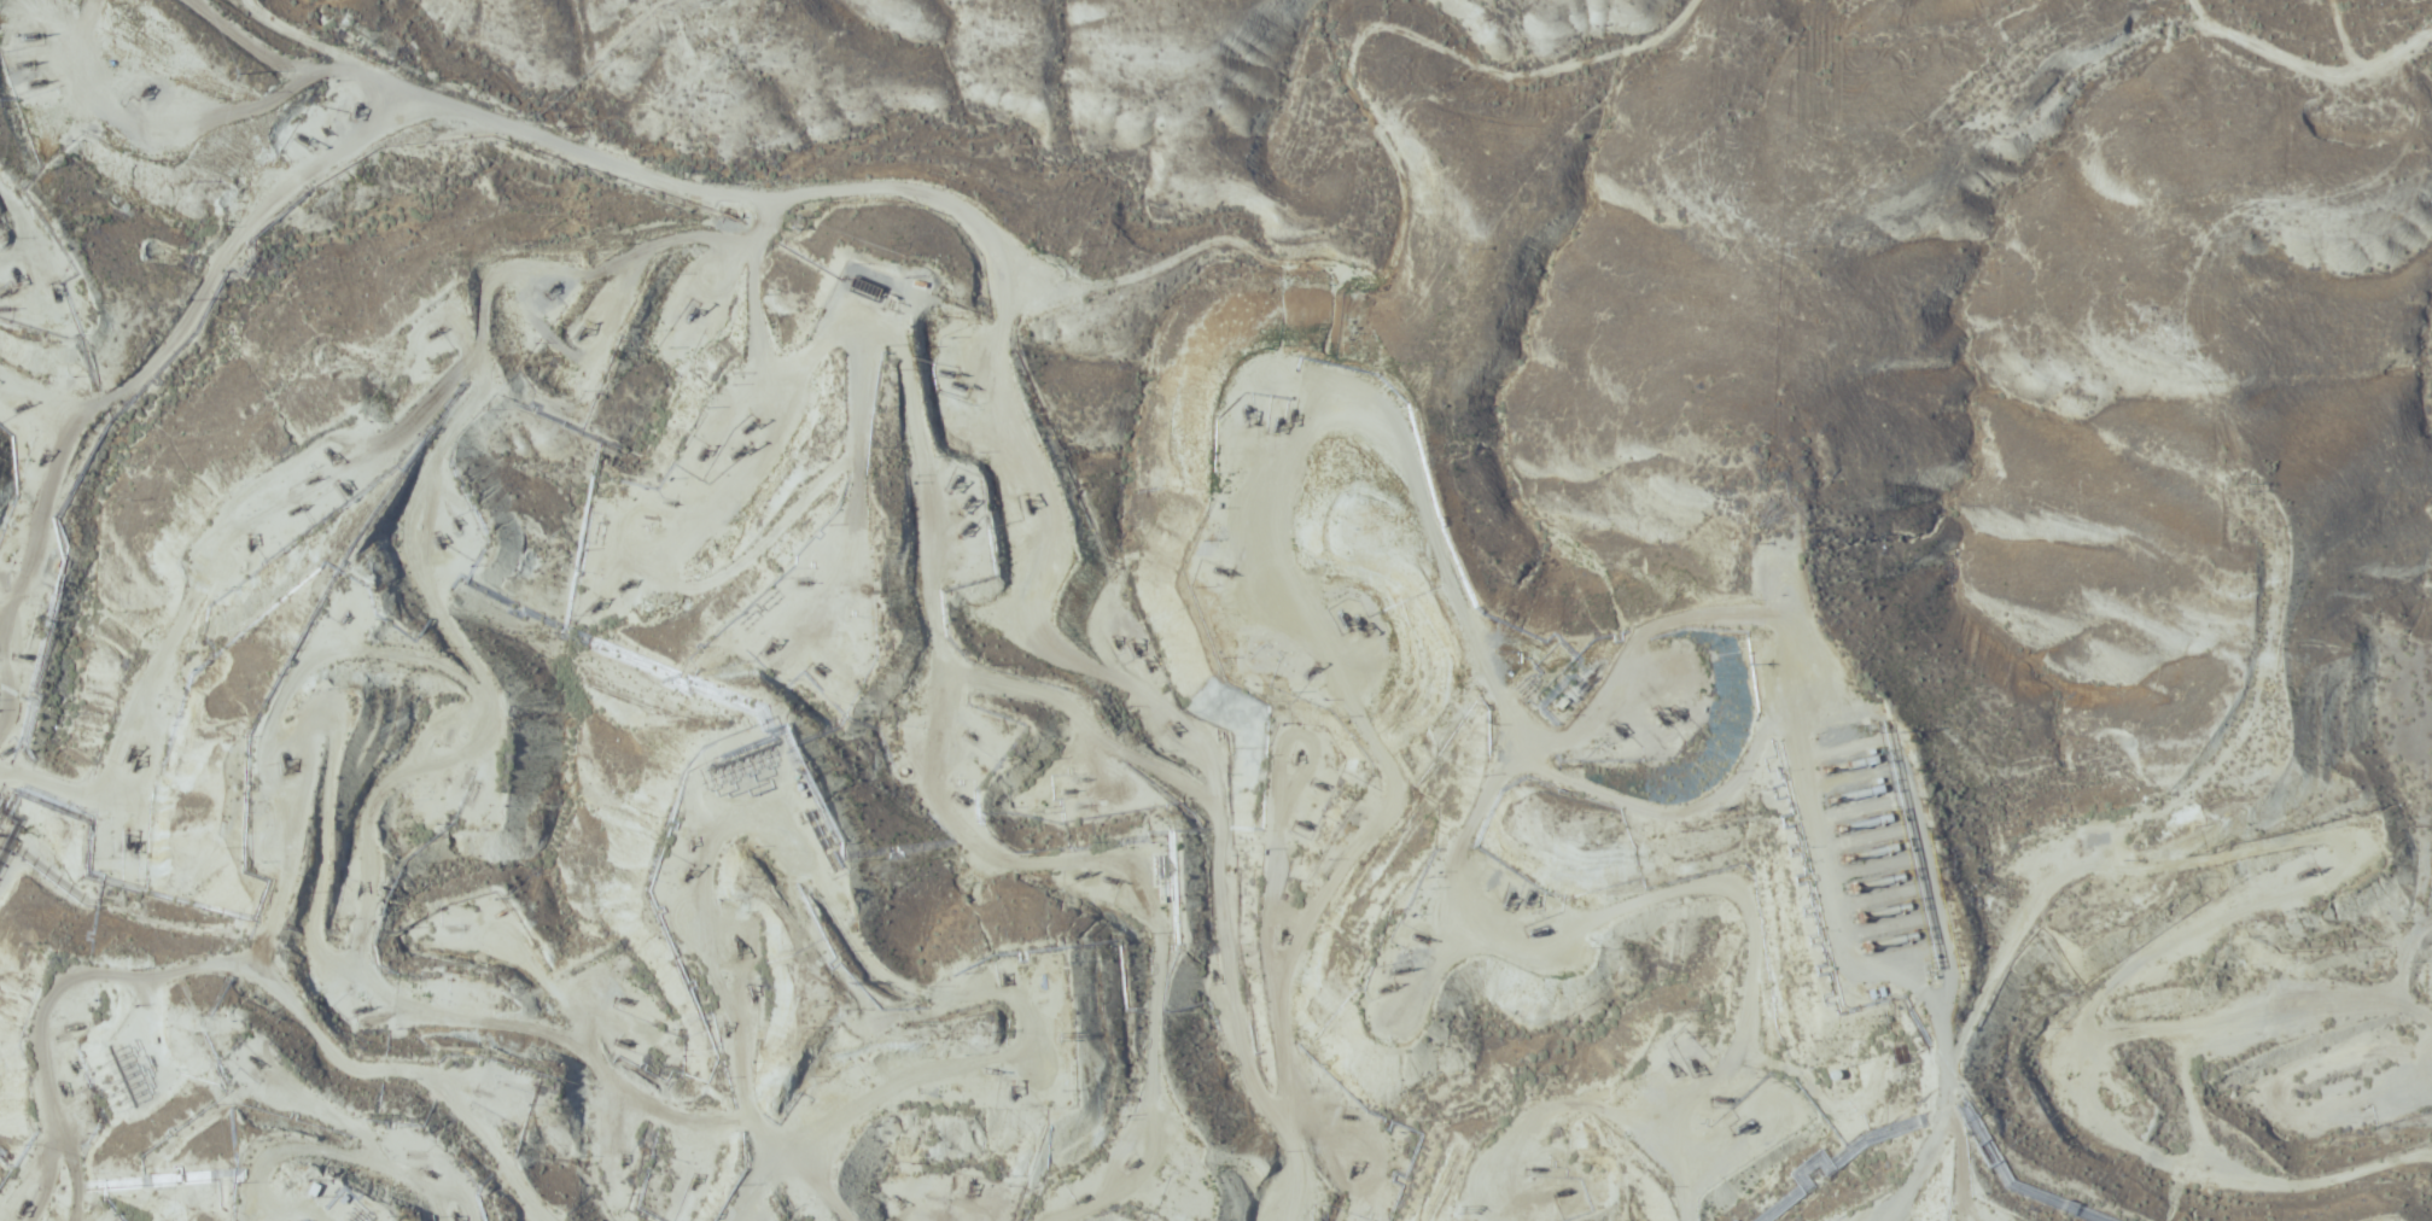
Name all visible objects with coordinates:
road: (337, 105)
building: (880, 290)
road: (135, 387)

